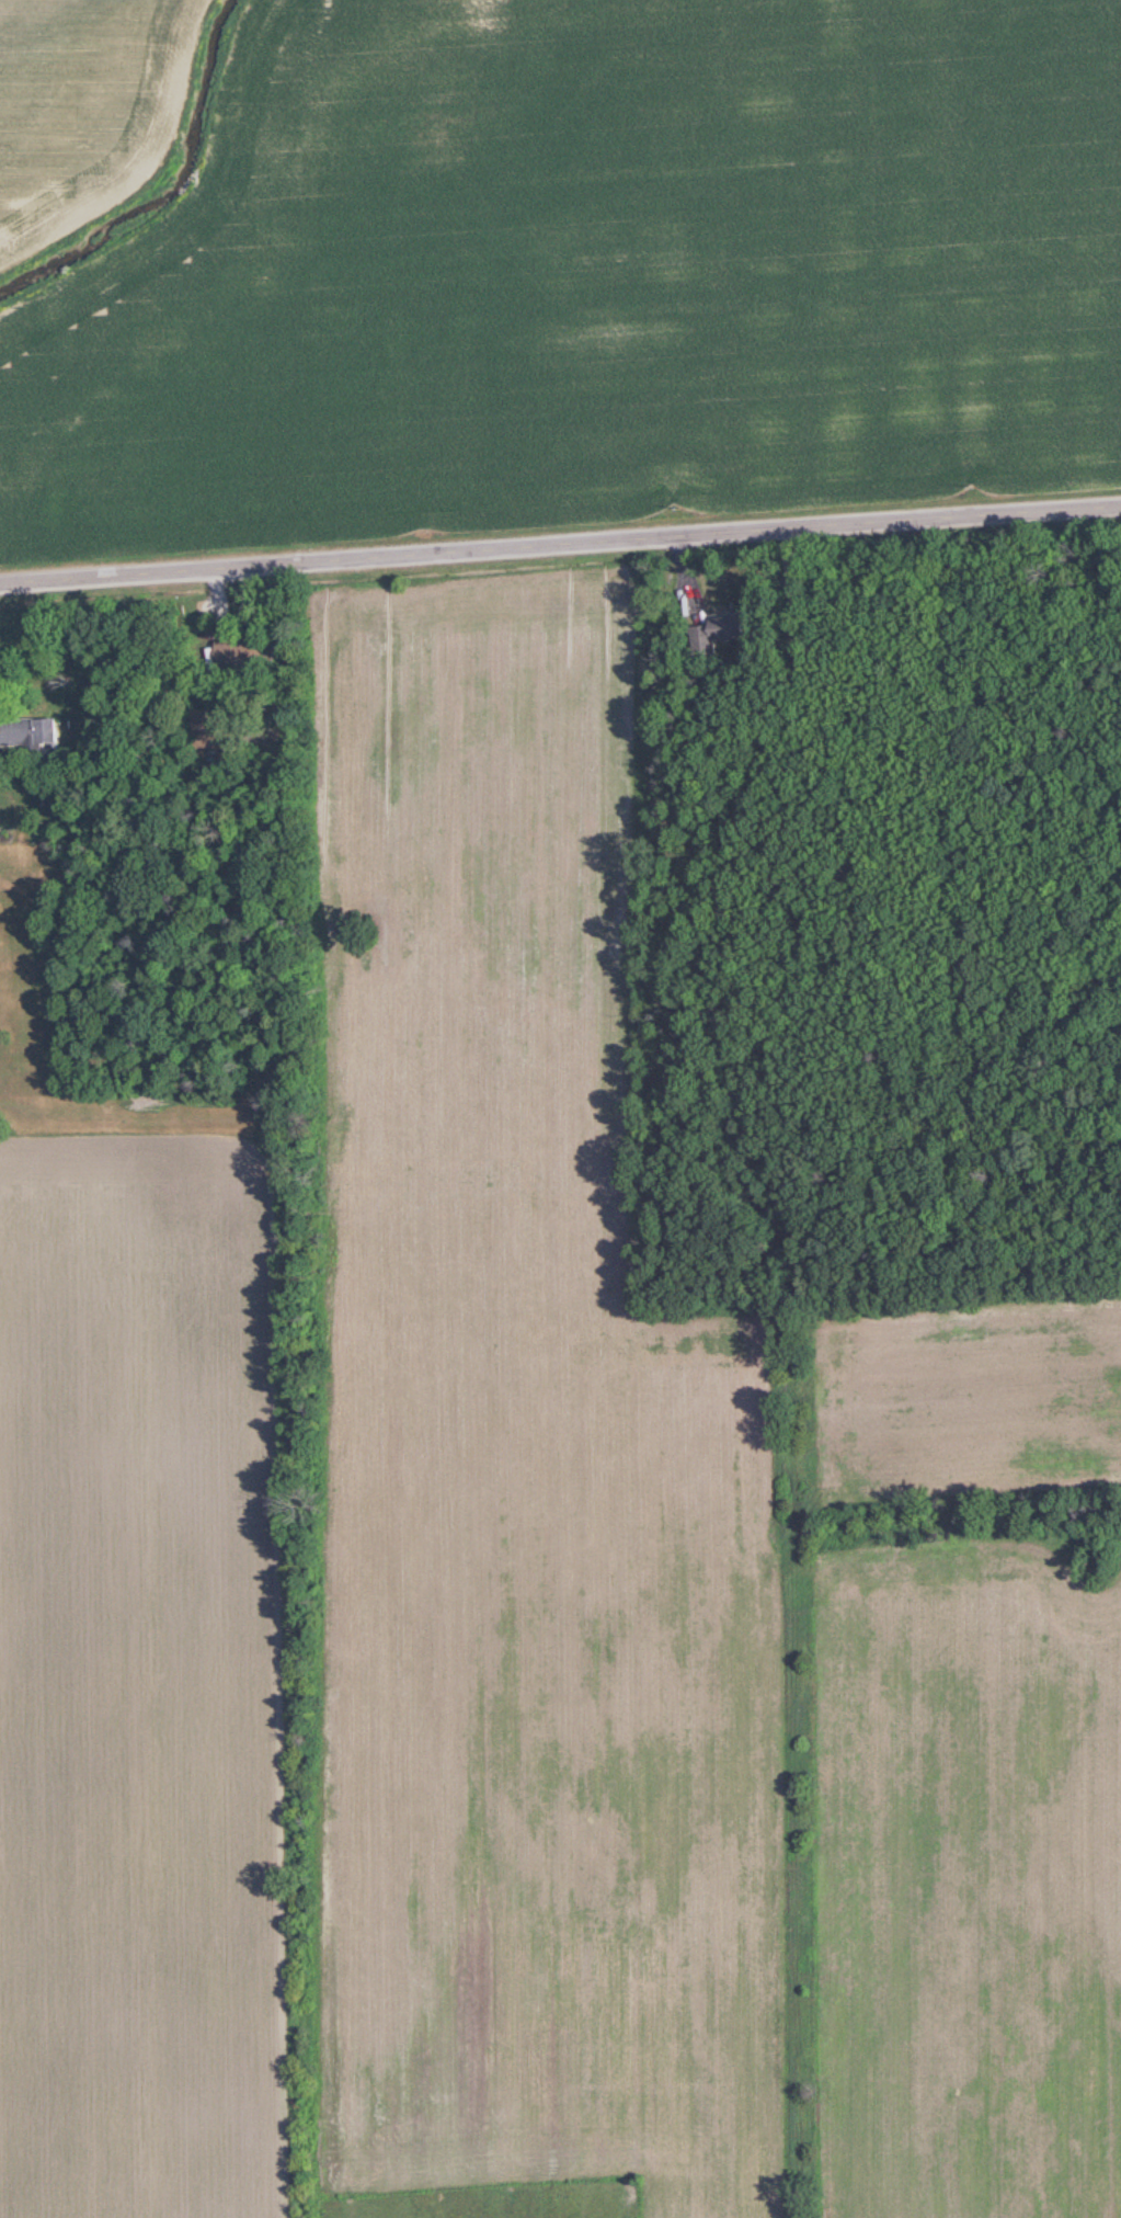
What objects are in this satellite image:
road: (560, 544)
building: (727, 628)
building: (250, 651)
building: (30, 732)

